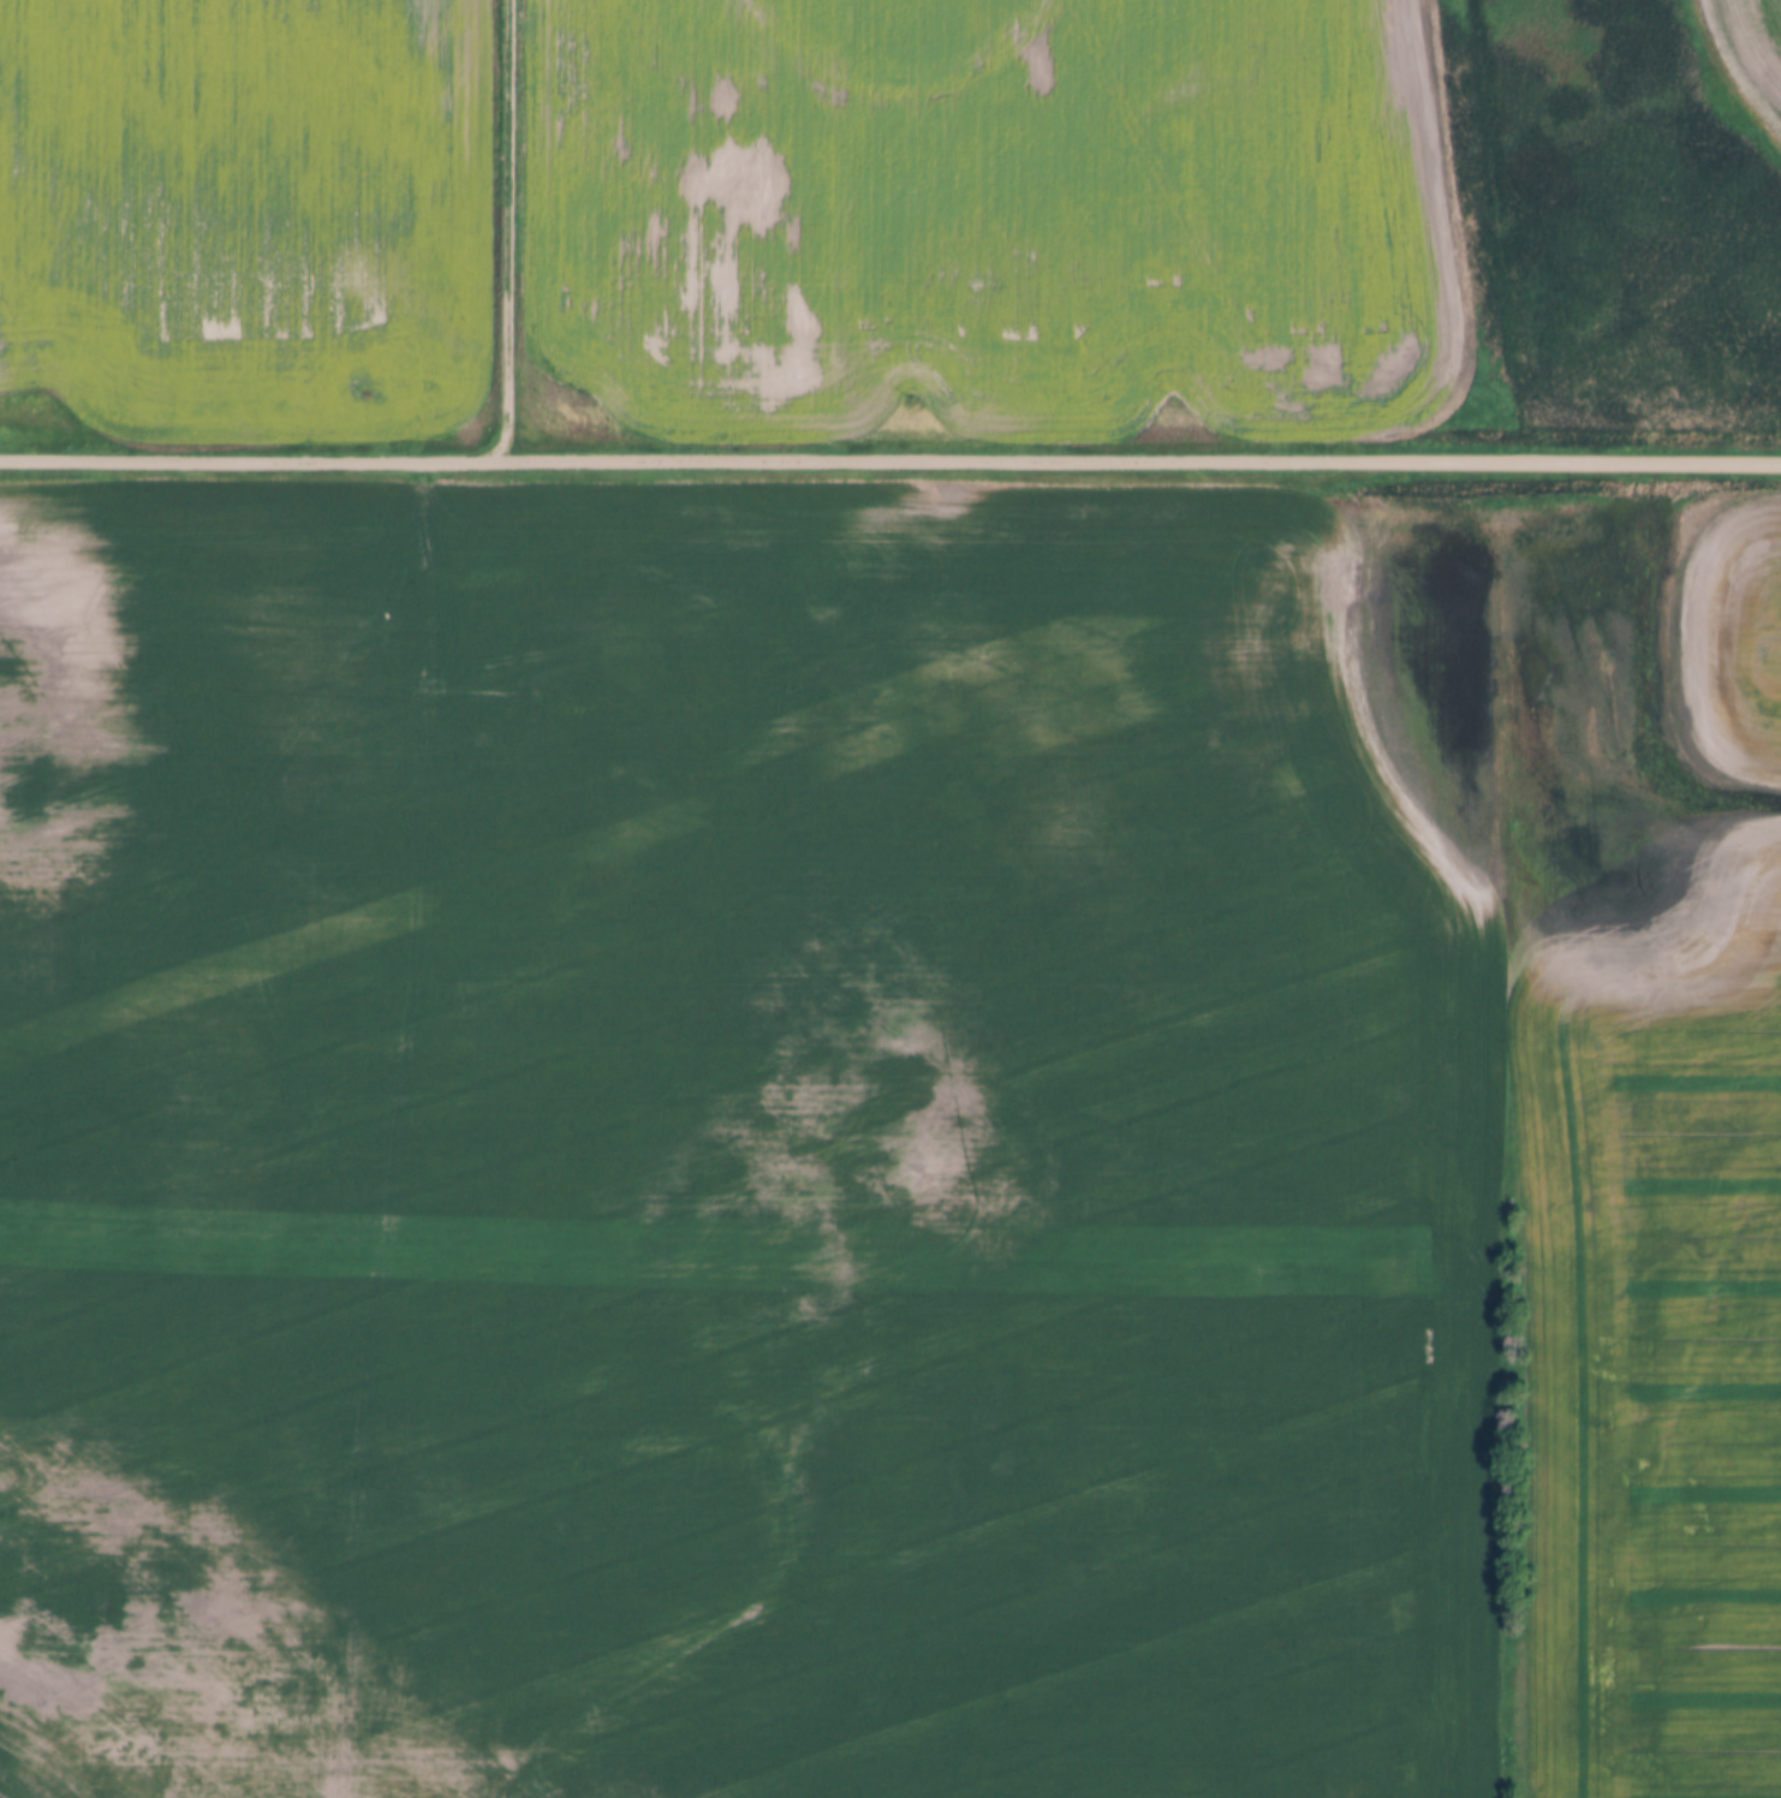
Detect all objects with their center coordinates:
road: (504, 227)
road: (890, 456)

